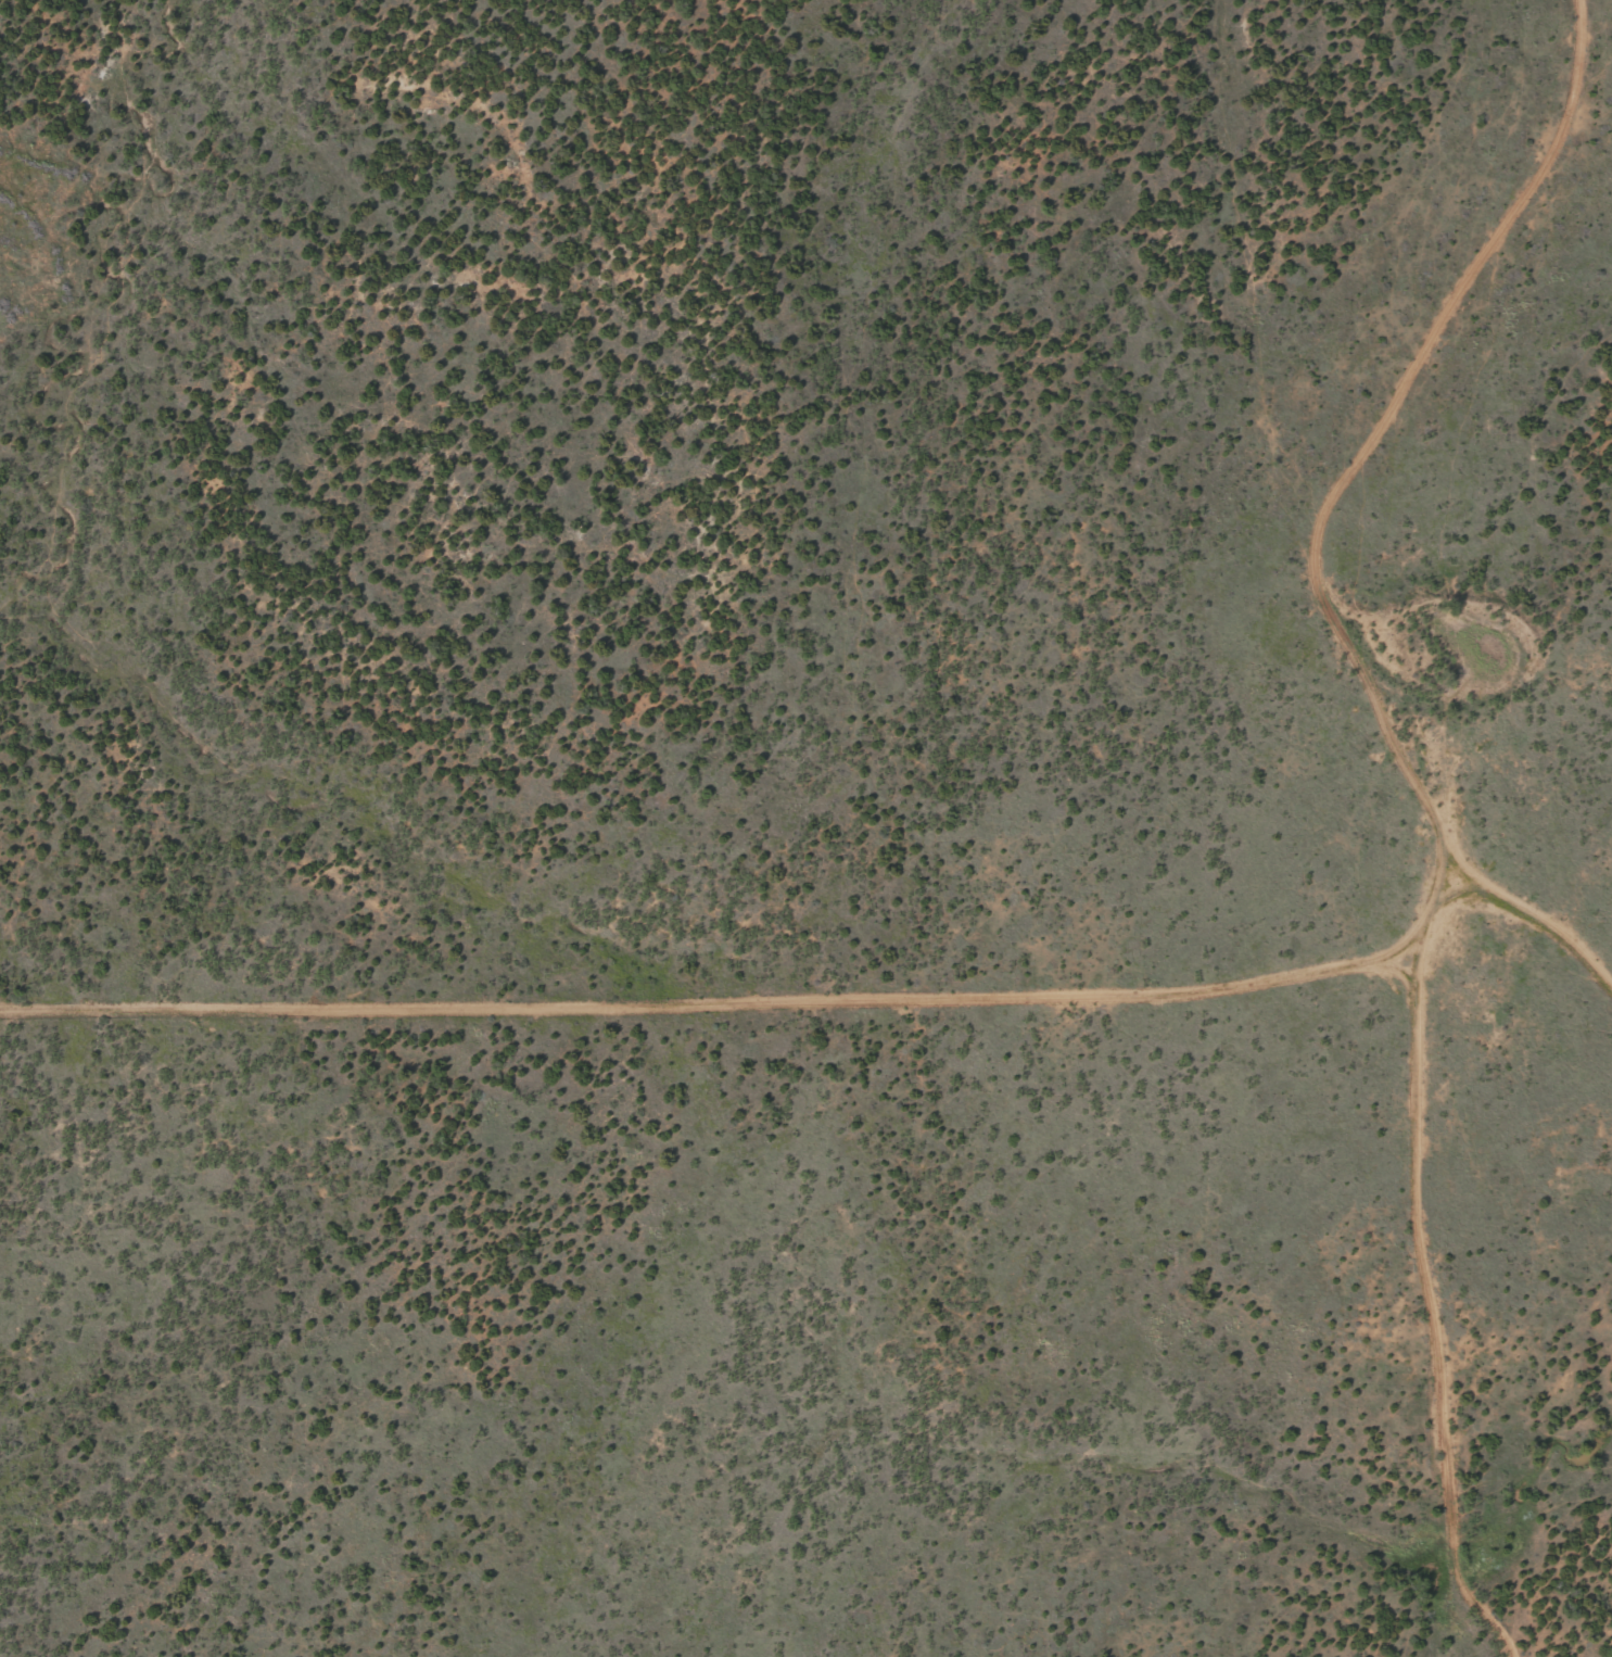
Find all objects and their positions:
road: (1423, 786)
road: (1531, 948)

